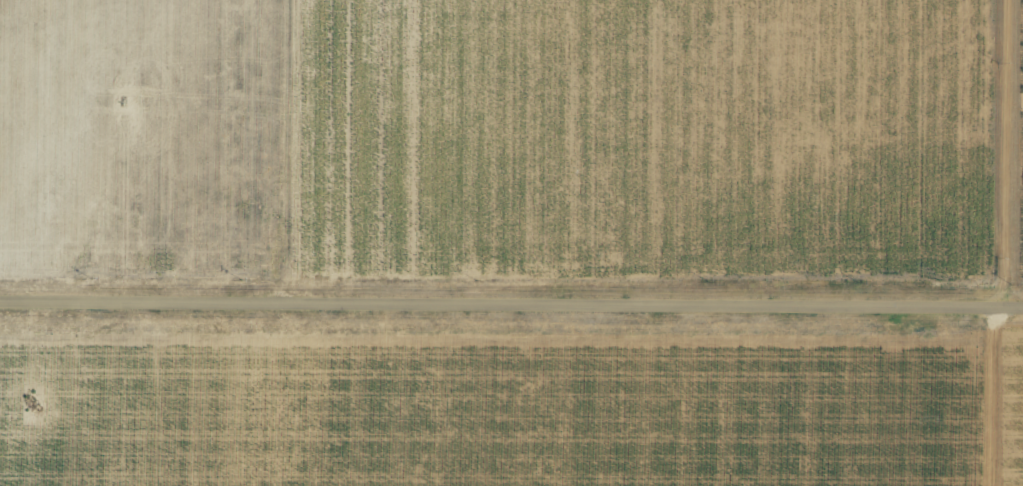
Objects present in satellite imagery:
road: (1013, 243)
road: (511, 303)

